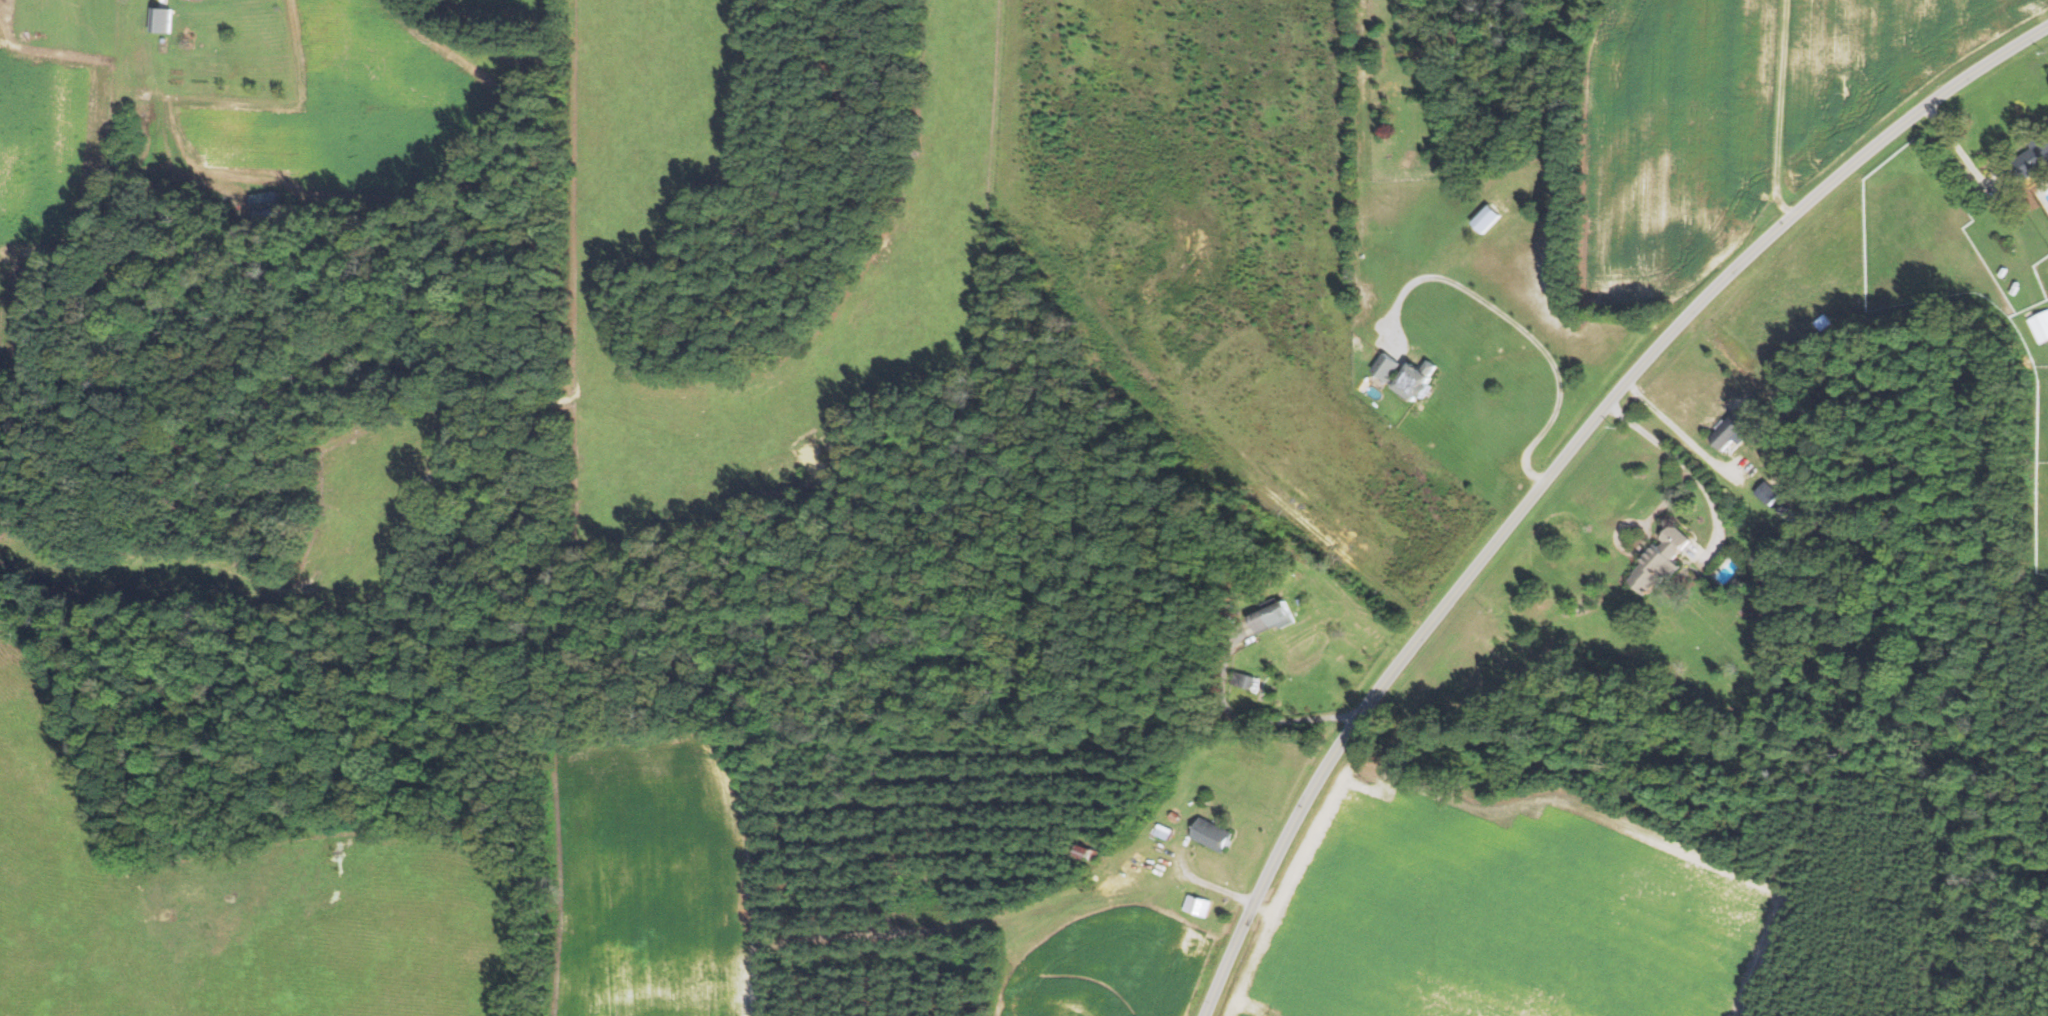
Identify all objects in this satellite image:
building: (162, 19)
crop: (1876, 68)
road: (1779, 109)
crop: (1675, 143)
road: (1958, 151)
building: (2027, 161)
building: (267, 204)
building: (1485, 218)
building: (1821, 322)
building: (2040, 326)
road: (1520, 329)
road: (1146, 345)
building: (1370, 354)
building: (1405, 375)
building: (1729, 431)
road: (1684, 434)
road: (1682, 462)
road: (1558, 464)
building: (1766, 493)
building: (1789, 514)
road: (1717, 522)
building: (1658, 559)
building: (1736, 584)
building: (1271, 617)
building: (1240, 679)
road: (1252, 721)
building: (1205, 799)
building: (1173, 816)
building: (1161, 832)
building: (1210, 834)
building: (1083, 852)
crop: (658, 877)
road: (1192, 877)
building: (1195, 905)
crop: (1502, 914)
road: (974, 922)
crop: (1108, 962)

